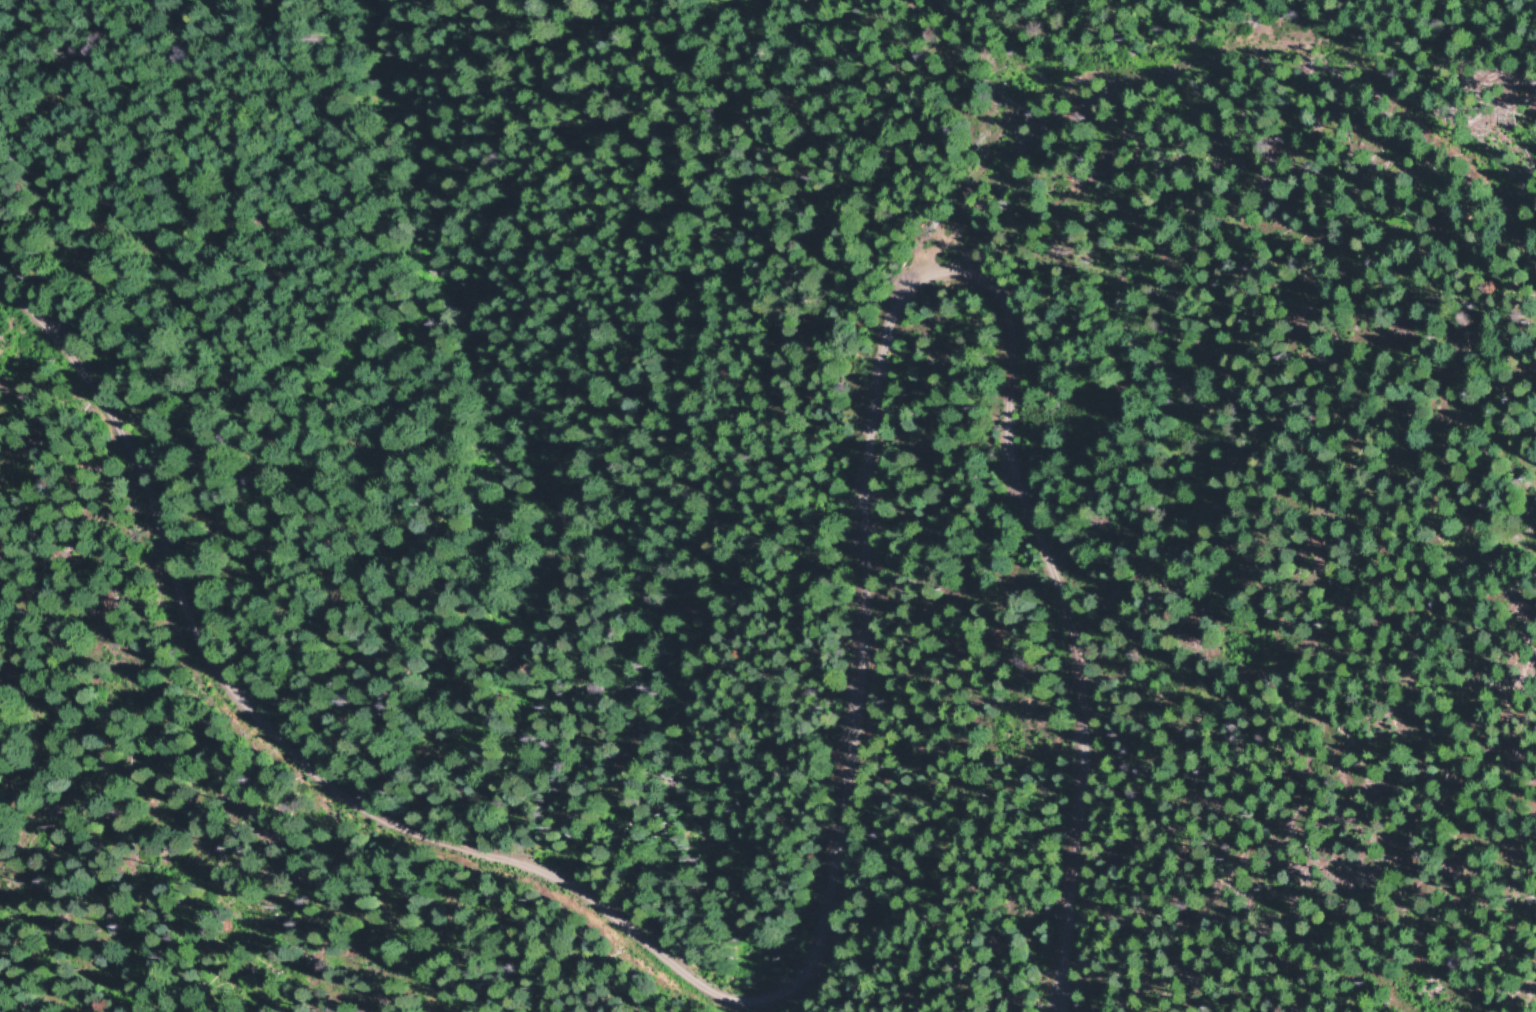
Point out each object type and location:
road: (697, 838)

